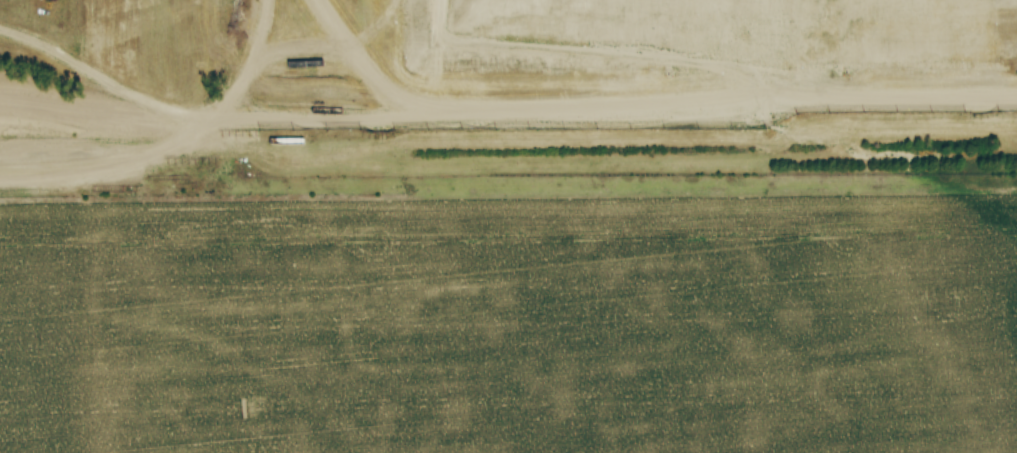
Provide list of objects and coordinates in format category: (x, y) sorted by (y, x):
road: (639, 127)
crop: (513, 327)

